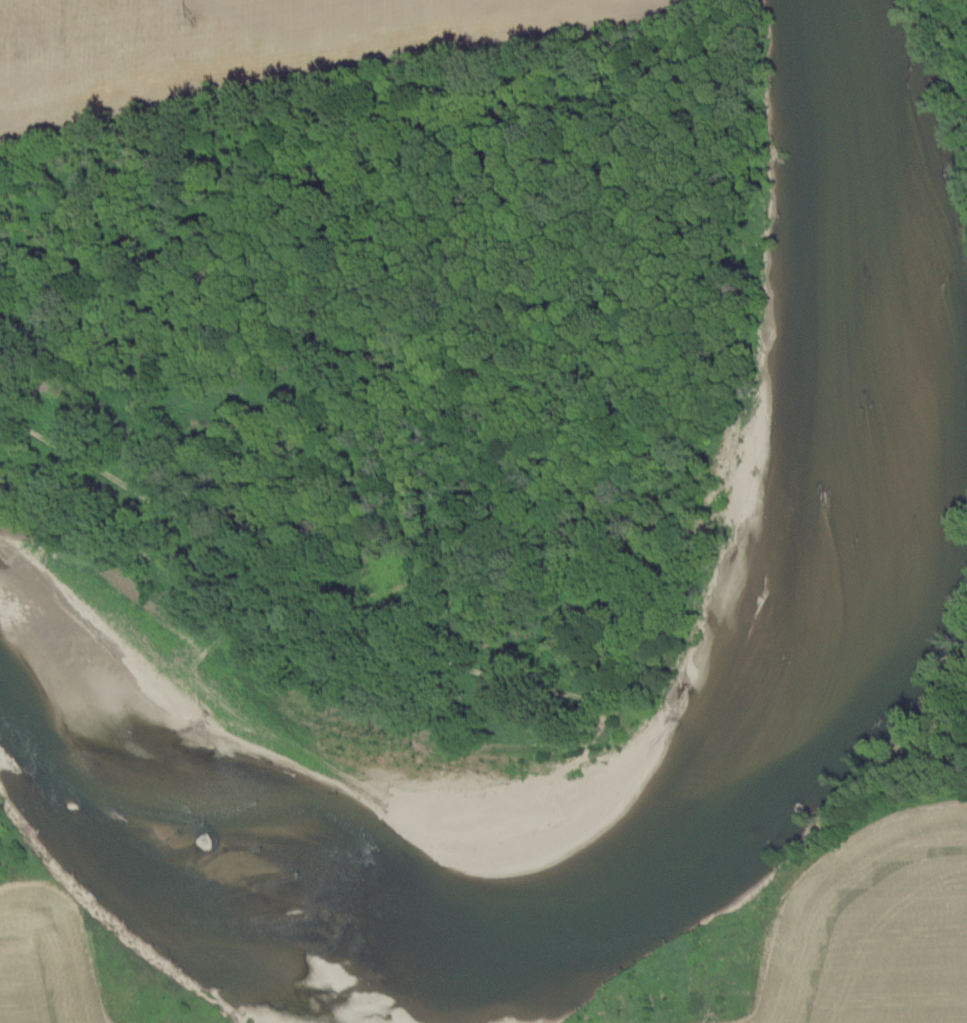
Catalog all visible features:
river: (790, 768)

